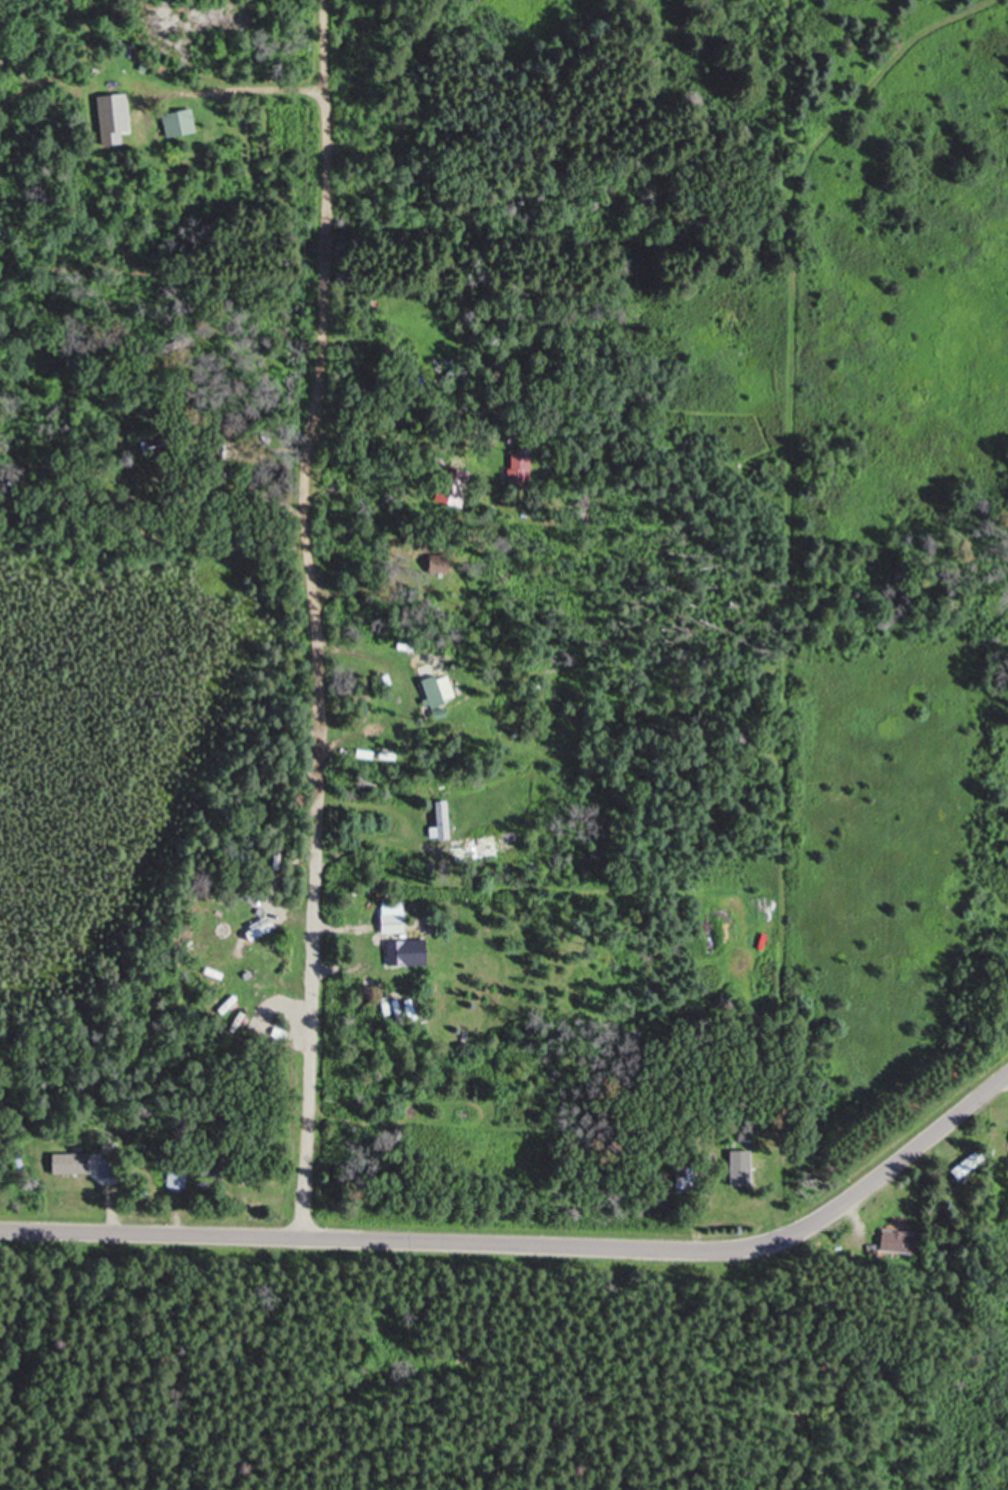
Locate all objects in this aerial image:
building: (182, 123)
building: (455, 376)
building: (520, 465)
road: (317, 616)
building: (434, 690)
building: (446, 819)
building: (395, 922)
building: (398, 952)
building: (963, 1167)
building: (76, 1177)
building: (177, 1179)
building: (686, 1179)
building: (897, 1243)
road: (532, 1244)

